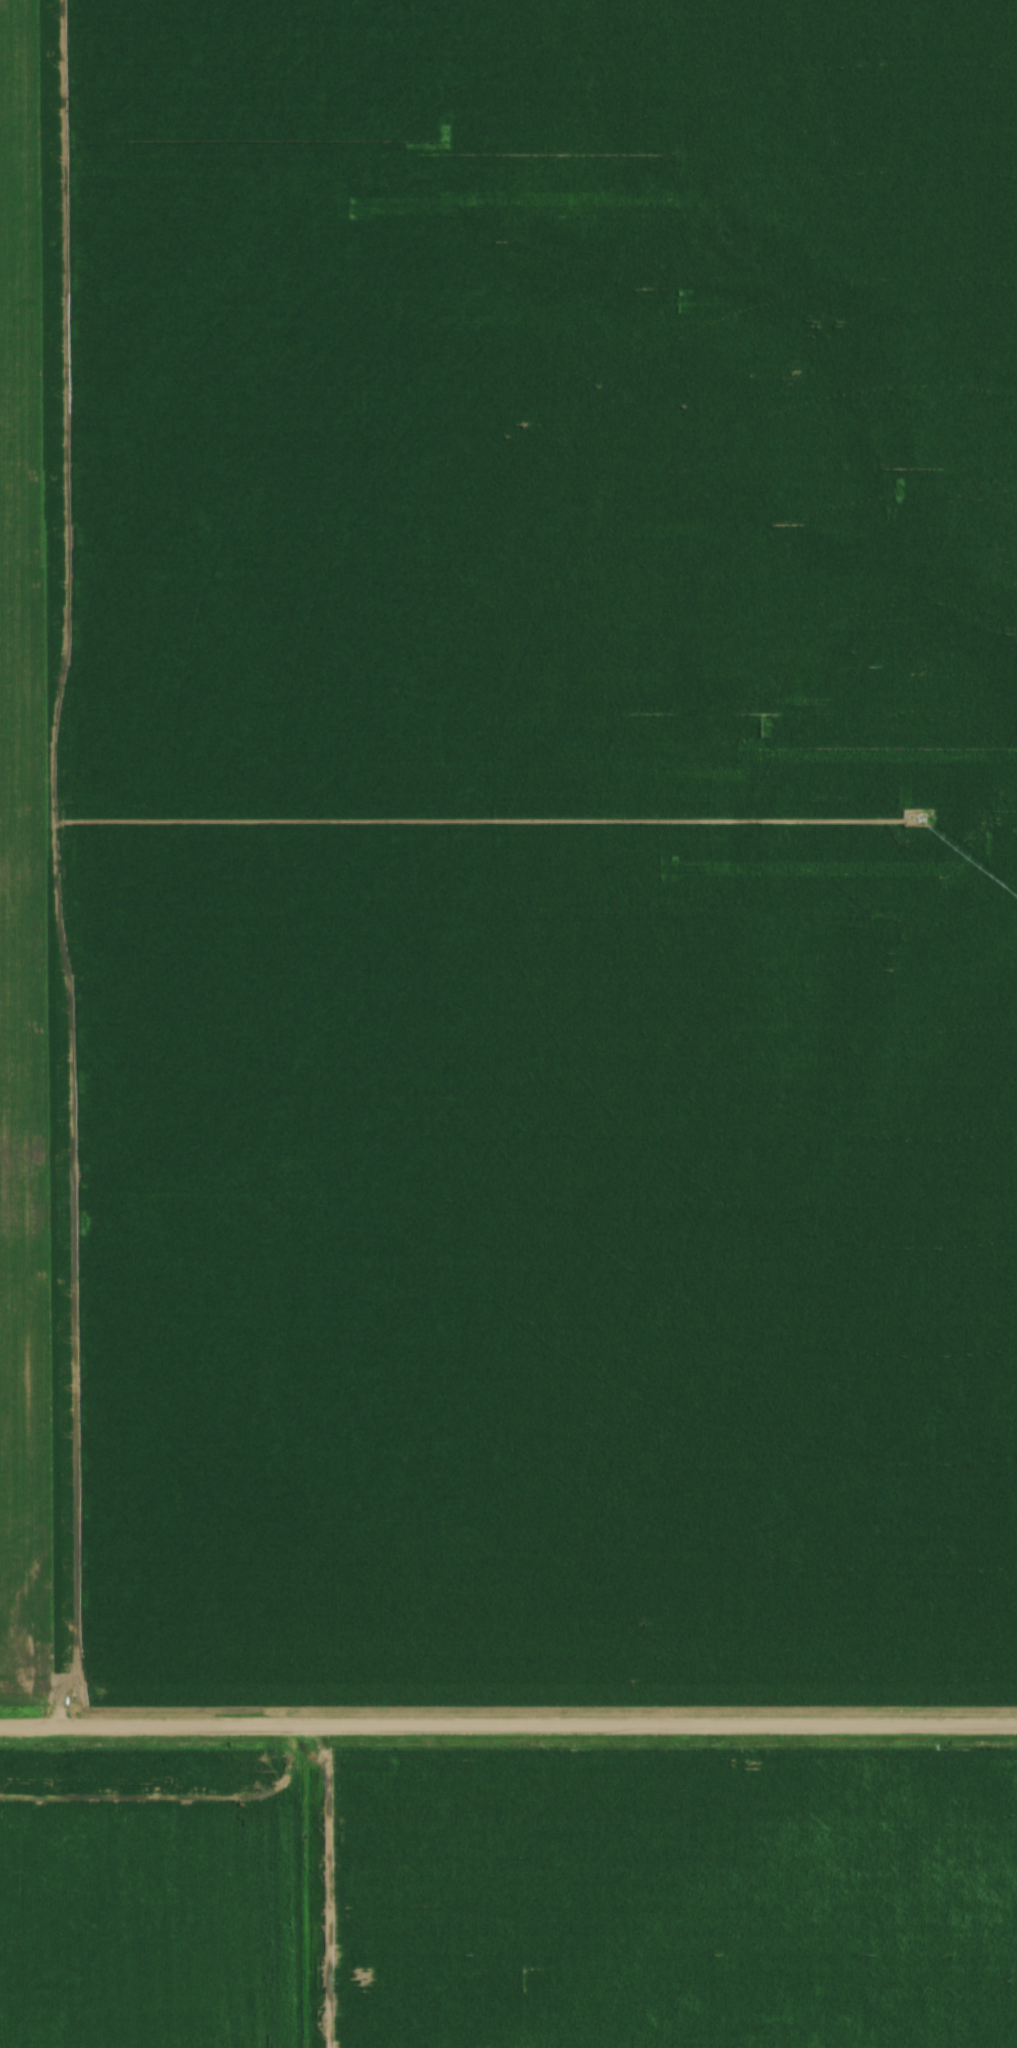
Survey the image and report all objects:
road: (508, 1731)

